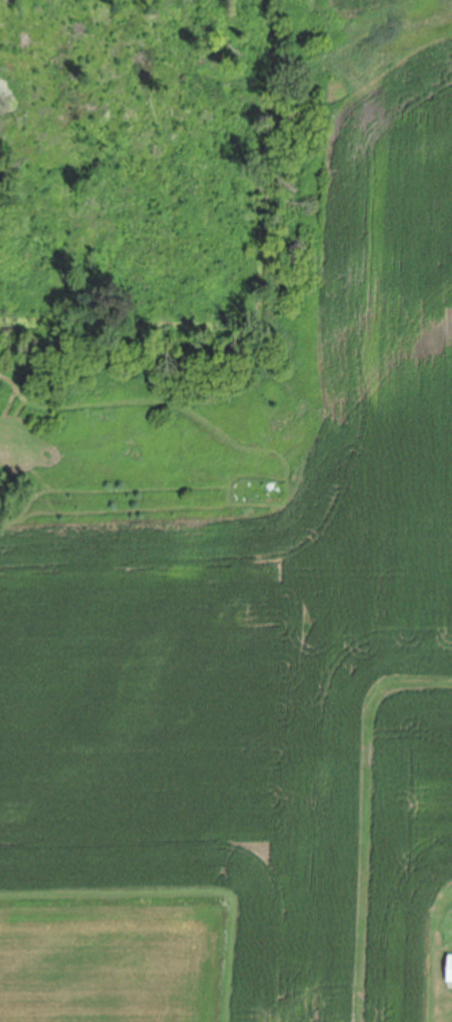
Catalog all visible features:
building: (450, 965)

